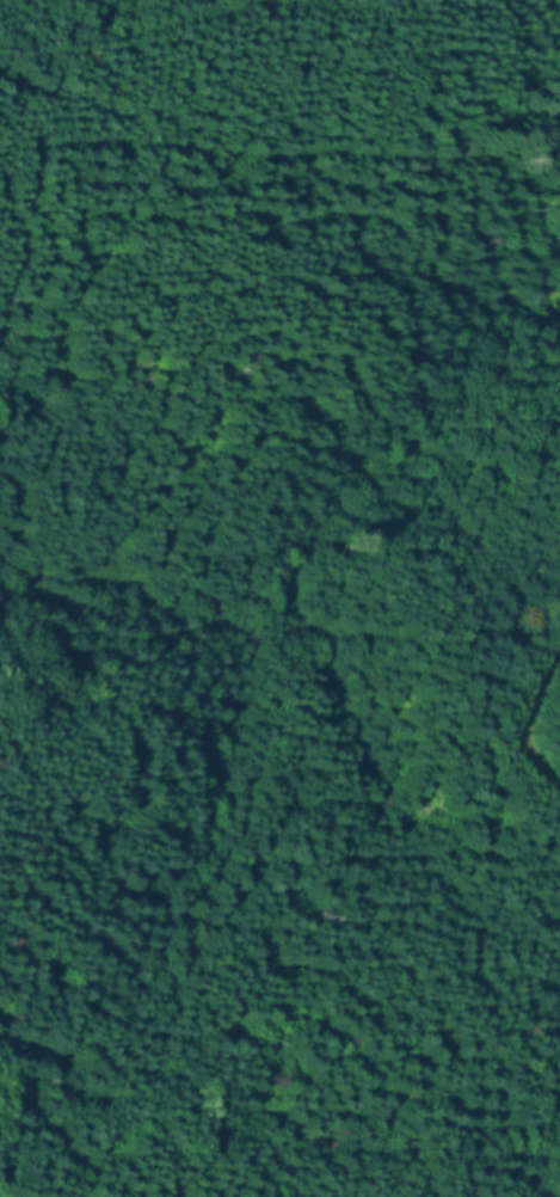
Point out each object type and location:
road: (521, 723)

